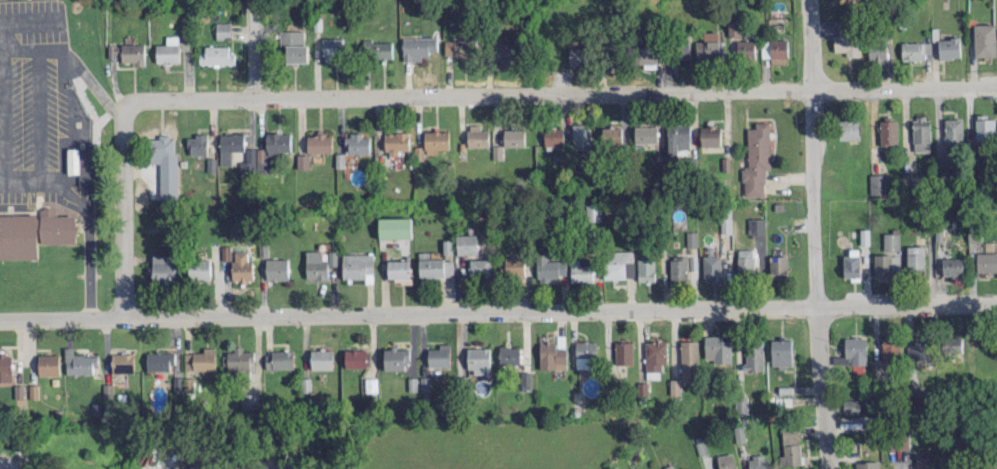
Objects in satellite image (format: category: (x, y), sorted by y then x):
road: (29, 15)
building: (733, 27)
building: (222, 30)
building: (984, 39)
building: (848, 42)
building: (293, 45)
building: (710, 46)
building: (418, 47)
building: (458, 47)
building: (949, 47)
road: (257, 48)
building: (113, 49)
building: (331, 49)
building: (377, 49)
building: (682, 49)
building: (746, 49)
building: (916, 49)
building: (167, 50)
building: (775, 50)
building: (880, 51)
building: (132, 53)
building: (216, 55)
building: (577, 55)
building: (648, 55)
road: (70, 86)
road: (823, 87)
road: (96, 90)
road: (384, 95)
road: (2, 96)
parking lot: (39, 106)
building: (848, 128)
building: (985, 128)
building: (953, 131)
building: (888, 132)
building: (921, 133)
building: (645, 134)
building: (710, 135)
building: (477, 136)
building: (553, 136)
building: (611, 136)
building: (513, 137)
building: (678, 137)
building: (582, 138)
building: (436, 140)
building: (319, 142)
building: (357, 143)
building: (396, 143)
building: (197, 144)
building: (161, 145)
building: (230, 146)
building: (497, 151)
building: (418, 152)
building: (265, 153)
building: (756, 159)
building: (302, 160)
building: (84, 165)
building: (878, 183)
road: (25, 210)
road: (89, 210)
building: (593, 212)
road: (125, 215)
building: (725, 219)
building: (755, 225)
building: (394, 227)
building: (32, 232)
road: (816, 234)
building: (863, 236)
building: (691, 238)
building: (891, 241)
building: (466, 243)
building: (447, 246)
building: (225, 252)
building: (332, 257)
building: (915, 259)
building: (744, 260)
building: (986, 262)
building: (618, 264)
building: (315, 265)
building: (514, 265)
building: (851, 265)
building: (241, 266)
building: (358, 266)
building: (952, 266)
building: (163, 267)
building: (436, 267)
building: (480, 267)
building: (548, 267)
building: (711, 267)
building: (778, 267)
building: (882, 267)
building: (398, 268)
building: (678, 268)
building: (199, 269)
building: (276, 269)
building: (581, 269)
building: (645, 269)
road: (498, 311)
building: (952, 344)
building: (890, 347)
building: (717, 348)
building: (919, 349)
building: (855, 350)
building: (623, 352)
building: (781, 352)
building: (585, 353)
building: (509, 354)
building: (439, 355)
building: (552, 355)
building: (753, 355)
building: (356, 357)
building: (396, 357)
building: (654, 358)
building: (200, 359)
building: (278, 359)
building: (321, 359)
building: (478, 359)
building: (159, 360)
building: (239, 360)
building: (688, 360)
building: (79, 362)
building: (123, 362)
building: (48, 364)
building: (5, 367)
building: (525, 379)
building: (370, 384)
building: (674, 386)
building: (18, 391)
building: (248, 401)
building: (741, 405)
building: (851, 405)
building: (790, 446)
building: (725, 461)
building: (759, 462)
building: (925, 462)
building: (867, 464)
building: (615, 467)
building: (668, 467)

